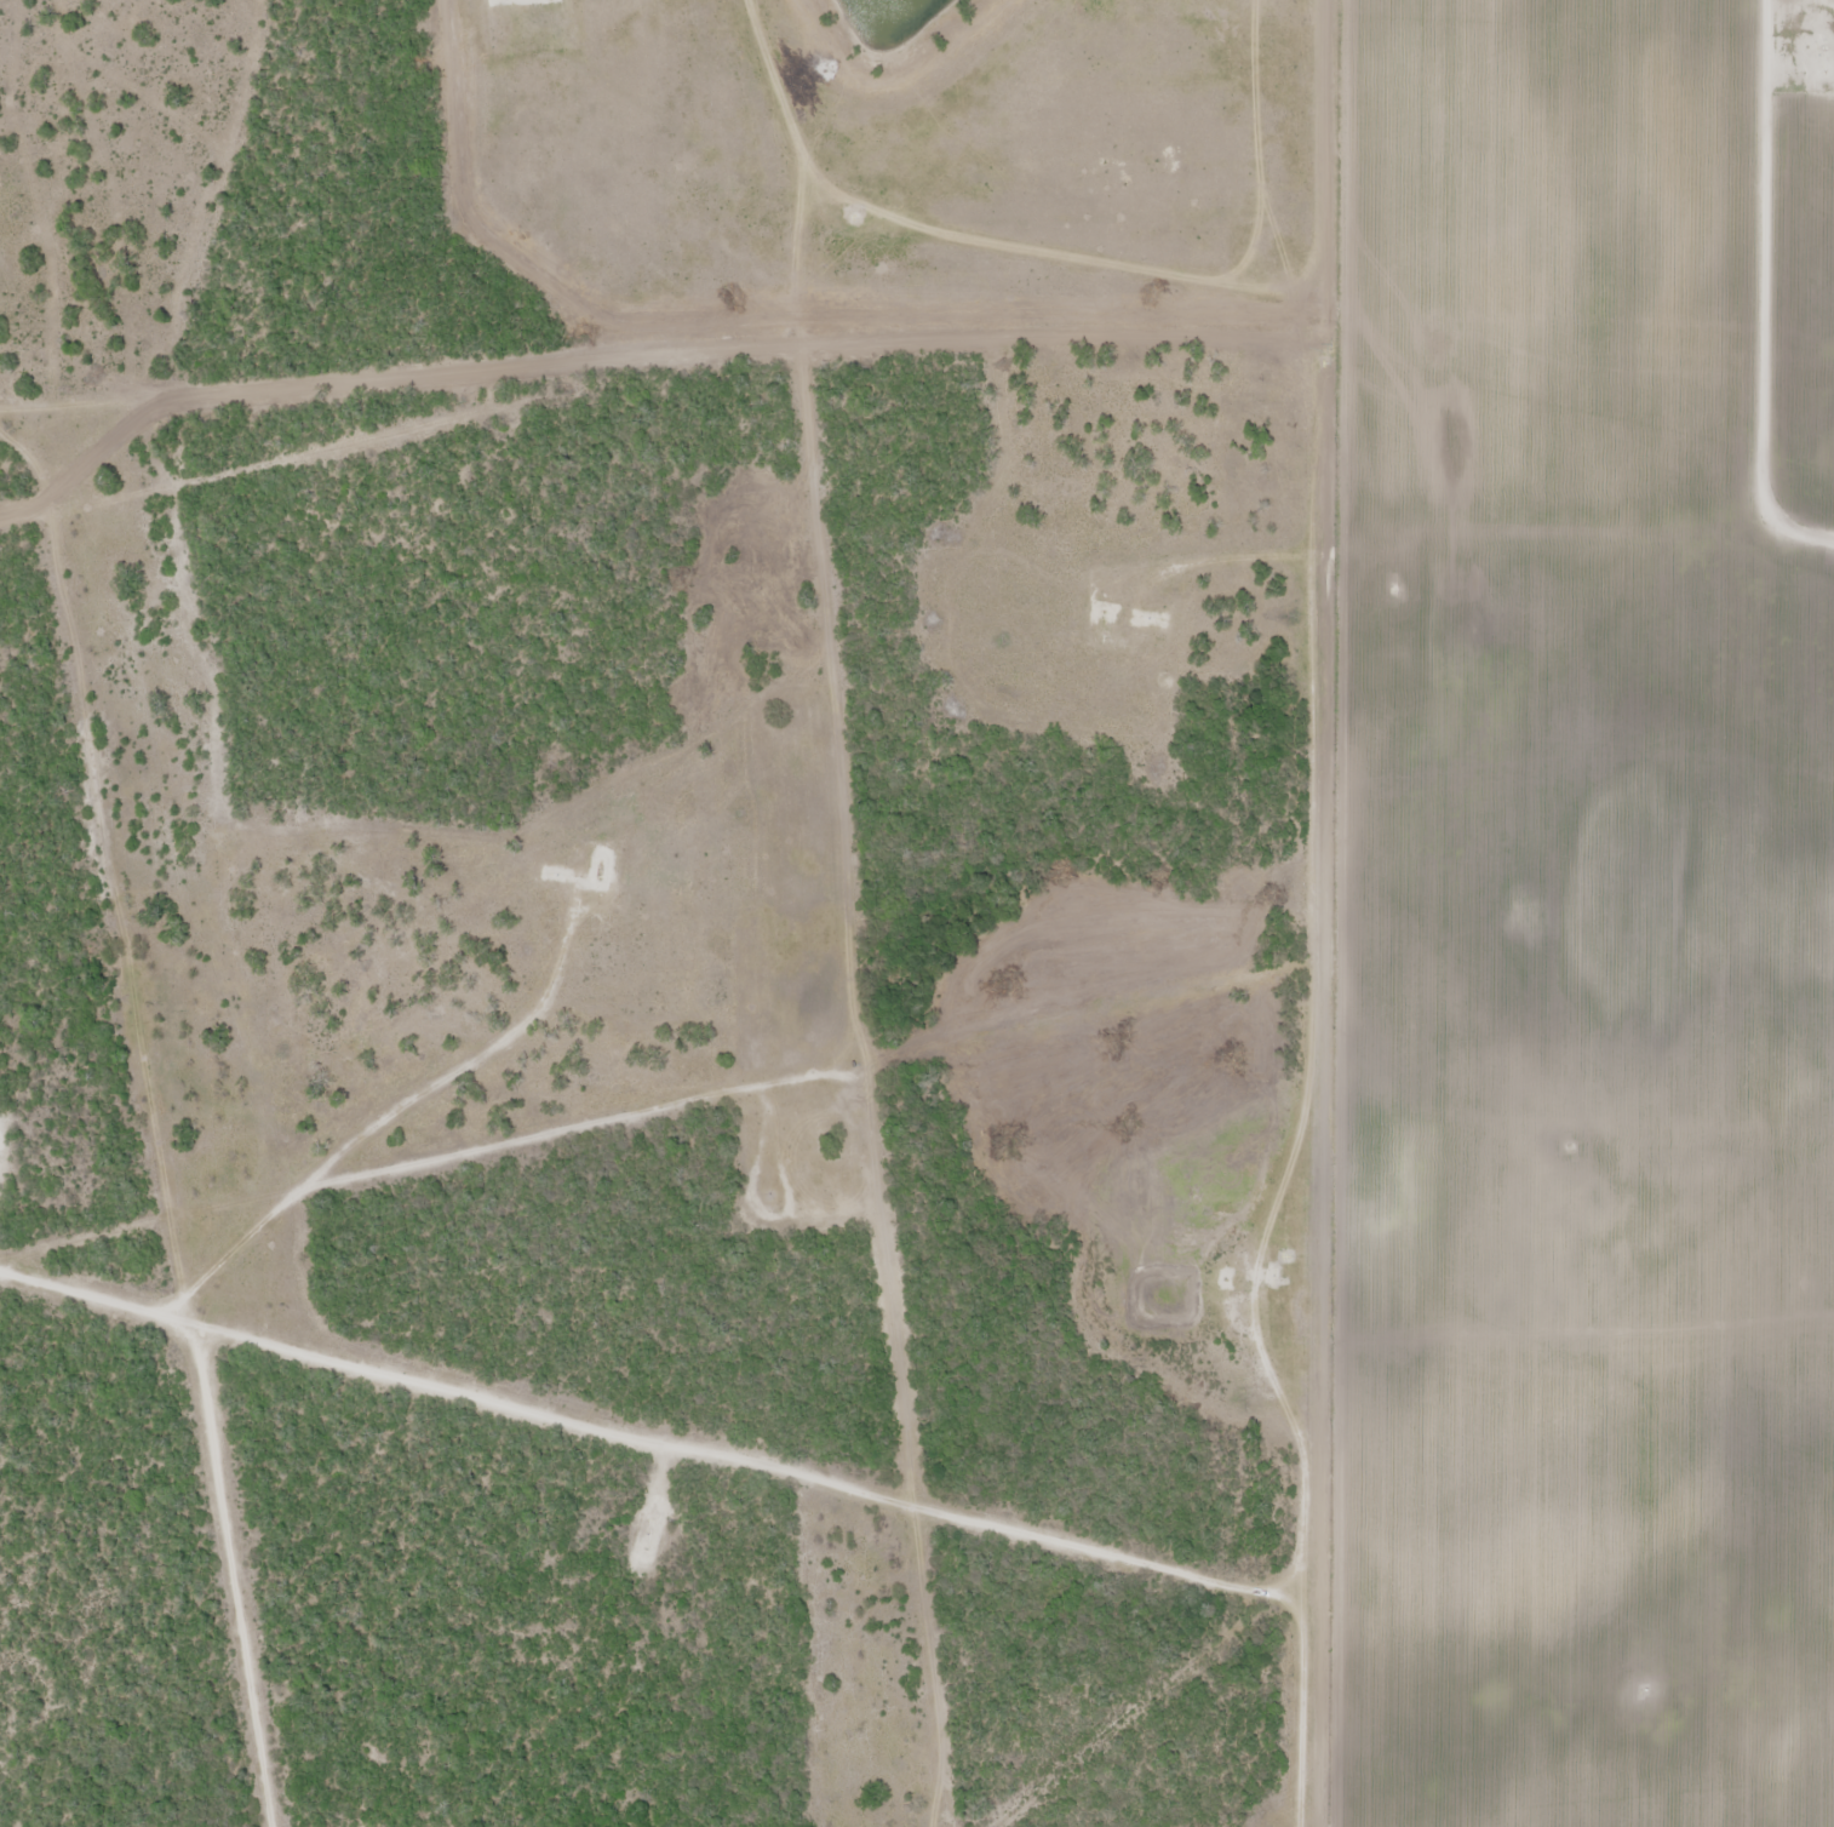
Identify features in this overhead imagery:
road: (1347, 764)
road: (1356, 1397)
road: (1597, 1691)

